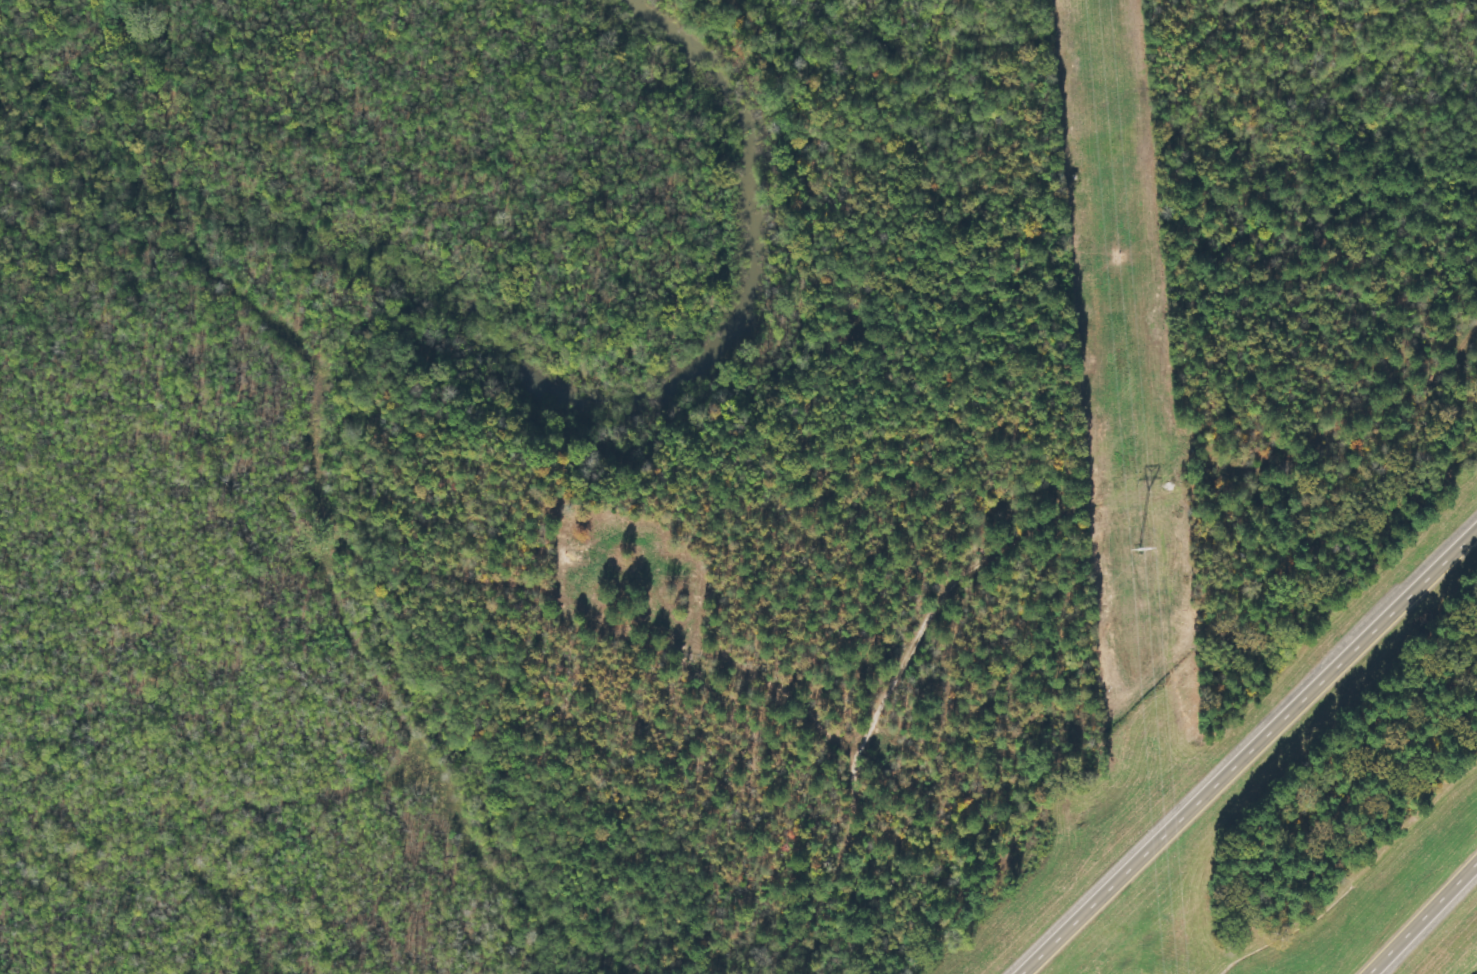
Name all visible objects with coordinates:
power tower: (1140, 548)
road: (1247, 750)
road: (1423, 919)

